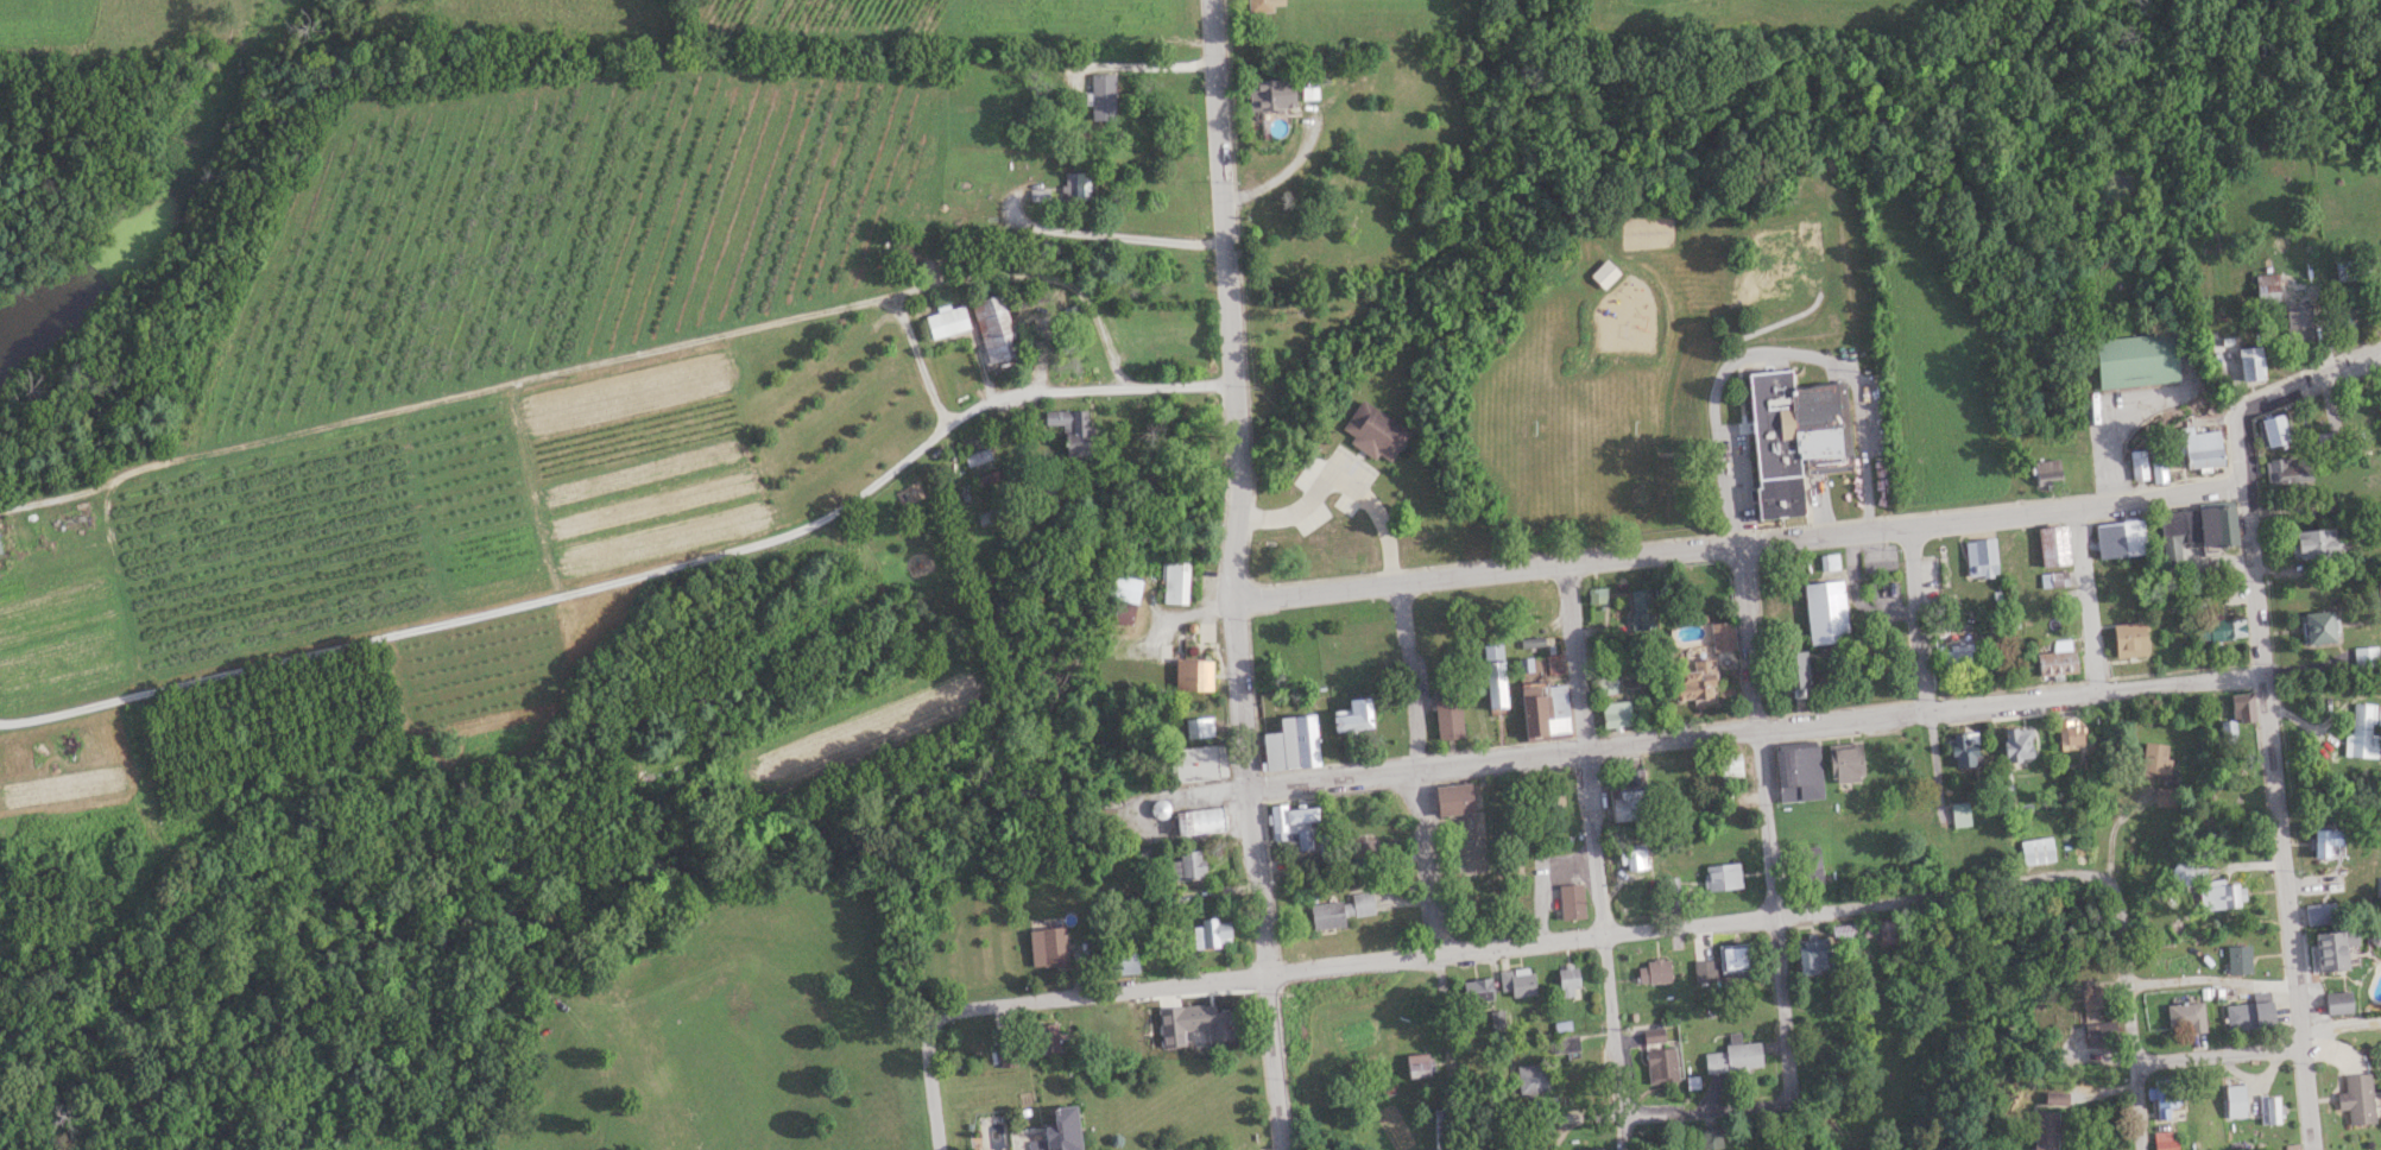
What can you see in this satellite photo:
building: (1258, 5)
road: (1154, 65)
building: (1269, 91)
building: (1100, 96)
road: (1281, 172)
building: (1075, 185)
road: (1104, 235)
building: (1603, 273)
road: (1227, 299)
building: (946, 320)
building: (2298, 323)
building: (992, 327)
road: (1773, 348)
road: (918, 360)
building: (2135, 360)
building: (2250, 365)
road: (588, 366)
road: (2274, 397)
building: (1069, 429)
building: (2273, 429)
building: (1373, 431)
road: (2102, 435)
building: (1793, 436)
building: (2199, 448)
building: (977, 457)
building: (2137, 463)
building: (2158, 467)
building: (2288, 469)
building: (2046, 472)
road: (1340, 478)
building: (987, 479)
building: (2318, 505)
building: (2193, 530)
building: (2118, 537)
building: (2313, 543)
road: (1739, 544)
building: (2052, 544)
building: (1979, 556)
building: (1829, 561)
road: (632, 575)
building: (2053, 579)
building: (1174, 582)
building: (2379, 592)
building: (1596, 595)
building: (1120, 599)
road: (2086, 600)
building: (1641, 609)
building: (1825, 611)
building: (2317, 626)
building: (2224, 630)
building: (1720, 637)
building: (2129, 639)
building: (1957, 658)
building: (2364, 658)
building: (2055, 663)
building: (1554, 665)
building: (1792, 671)
road: (1922, 671)
building: (1193, 675)
building: (1493, 675)
building: (1693, 683)
building: (1605, 685)
building: (1545, 712)
building: (1447, 714)
building: (1351, 715)
building: (1615, 715)
building: (2237, 715)
building: (1199, 727)
road: (1755, 729)
building: (2363, 732)
building: (2069, 733)
building: (1290, 744)
building: (2016, 744)
building: (1963, 748)
building: (2154, 758)
building: (1196, 763)
building: (1843, 764)
building: (1726, 766)
building: (1796, 775)
building: (2165, 797)
building: (1452, 798)
building: (1625, 803)
building: (1158, 808)
building: (1958, 815)
road: (1422, 817)
road: (2276, 817)
building: (1199, 821)
building: (1293, 824)
road: (2102, 826)
road: (1592, 839)
building: (2326, 843)
road: (1768, 847)
building: (2035, 851)
building: (1363, 853)
building: (1630, 858)
building: (1187, 865)
building: (1808, 865)
building: (2181, 873)
road: (1257, 874)
building: (1720, 876)
building: (1669, 885)
building: (2380, 886)
building: (2218, 897)
building: (1570, 901)
building: (1340, 910)
building: (2319, 914)
building: (1846, 931)
building: (1887, 931)
building: (1210, 933)
road: (1518, 943)
building: (1047, 946)
building: (2331, 948)
building: (1811, 955)
building: (1732, 958)
building: (2238, 960)
building: (1119, 963)
building: (1703, 969)
building: (1653, 971)
building: (1566, 980)
building: (1515, 981)
building: (1476, 990)
building: (2093, 998)
building: (2337, 1006)
building: (1187, 1012)
building: (2248, 1015)
road: (2129, 1016)
building: (2185, 1016)
road: (2339, 1022)
building: (1220, 1025)
building: (2101, 1034)
building: (1653, 1035)
building: (1562, 1036)
building: (1044, 1037)
road: (2218, 1053)
building: (1733, 1056)
building: (1660, 1064)
building: (1417, 1066)
building: (1531, 1079)
road: (930, 1085)
building: (2162, 1094)
building: (2053, 1097)
building: (2356, 1098)
building: (2234, 1100)
building: (2268, 1108)
road: (1707, 1110)
building: (2044, 1130)
building: (1057, 1131)
road: (1624, 1132)
building: (1709, 1138)
building: (2164, 1140)
building: (1594, 1149)

